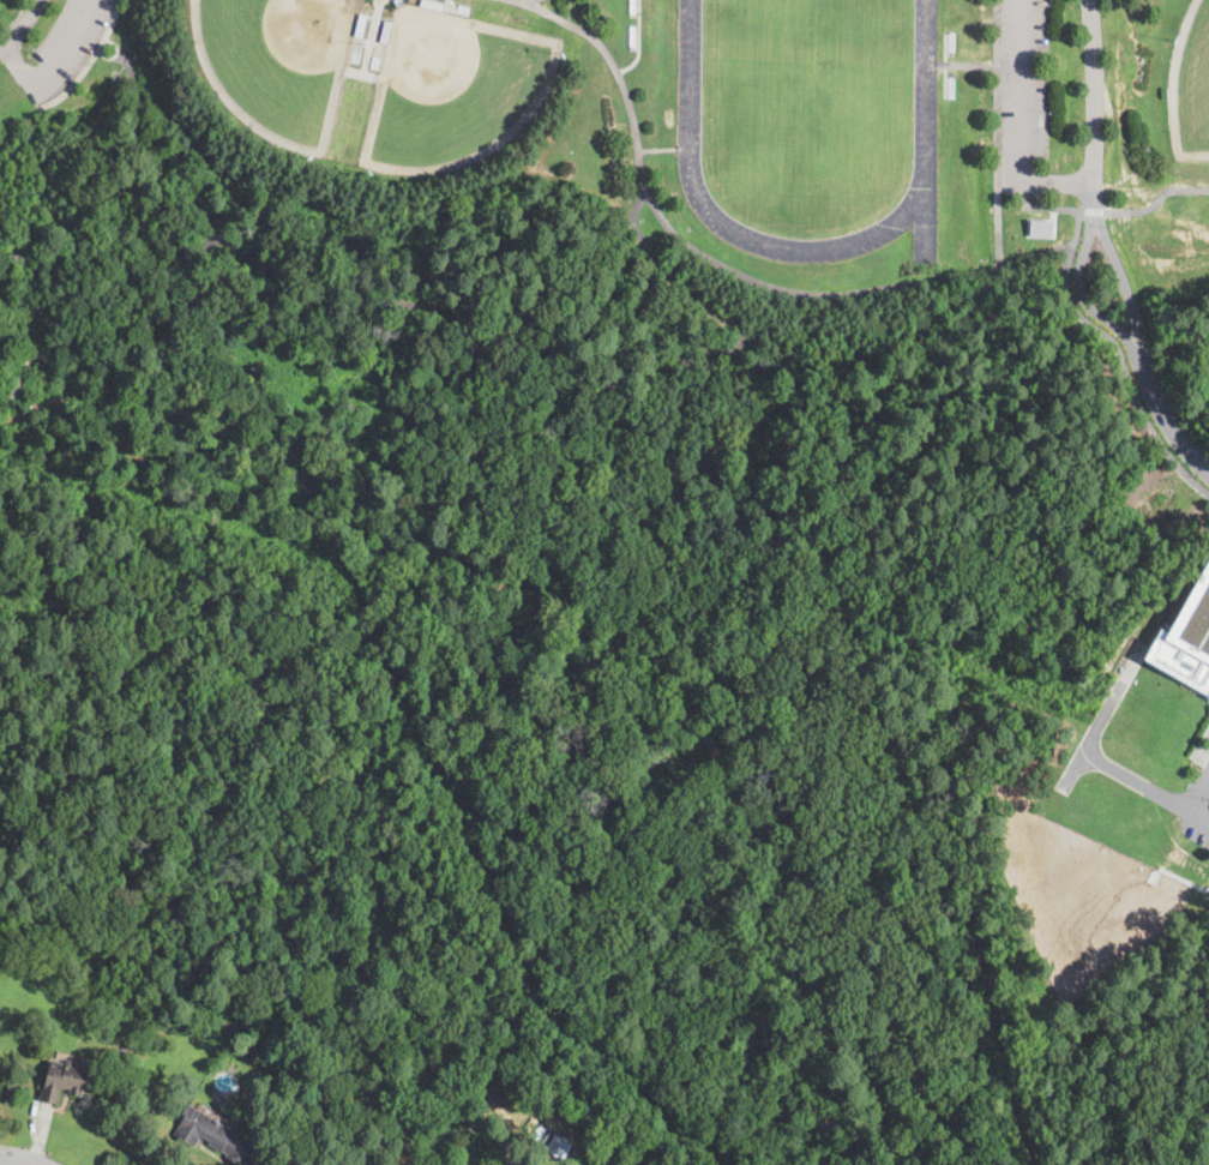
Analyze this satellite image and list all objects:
building: (398, 2)
building: (432, 5)
building: (361, 25)
building: (386, 31)
road: (115, 53)
road: (89, 61)
park: (278, 61)
track: (927, 74)
park: (1189, 83)
road: (36, 86)
park: (451, 88)
park: (810, 91)
road: (998, 134)
road: (1145, 188)
road: (1063, 190)
road: (1095, 202)
road: (1094, 211)
road: (738, 275)
road: (1124, 281)
road: (1084, 293)
road: (470, 305)
road: (114, 322)
road: (1126, 372)
road: (1165, 416)
park: (624, 558)
building: (1187, 633)
road: (1103, 761)
road: (1199, 795)
road: (1199, 817)
building: (64, 1080)
building: (213, 1135)
building: (355, 1135)
road: (258, 1157)
road: (20, 1161)

